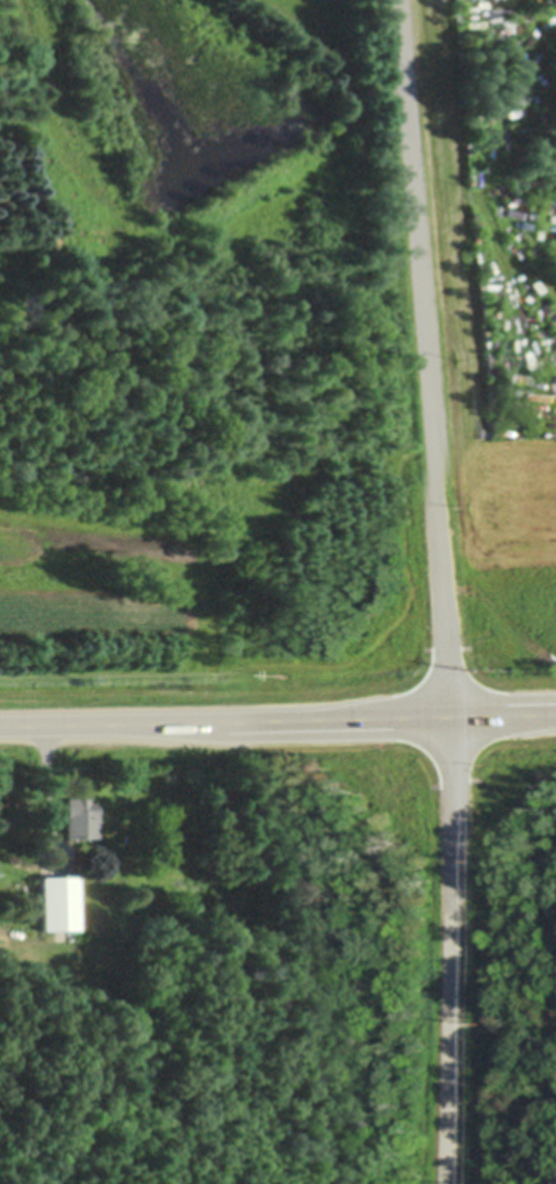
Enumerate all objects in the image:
road: (450, 591)
power tower: (502, 674)
power tower: (289, 677)
power tower: (85, 680)
road: (277, 717)
building: (79, 816)
power tower: (491, 861)
building: (56, 902)
power tower: (482, 1021)

